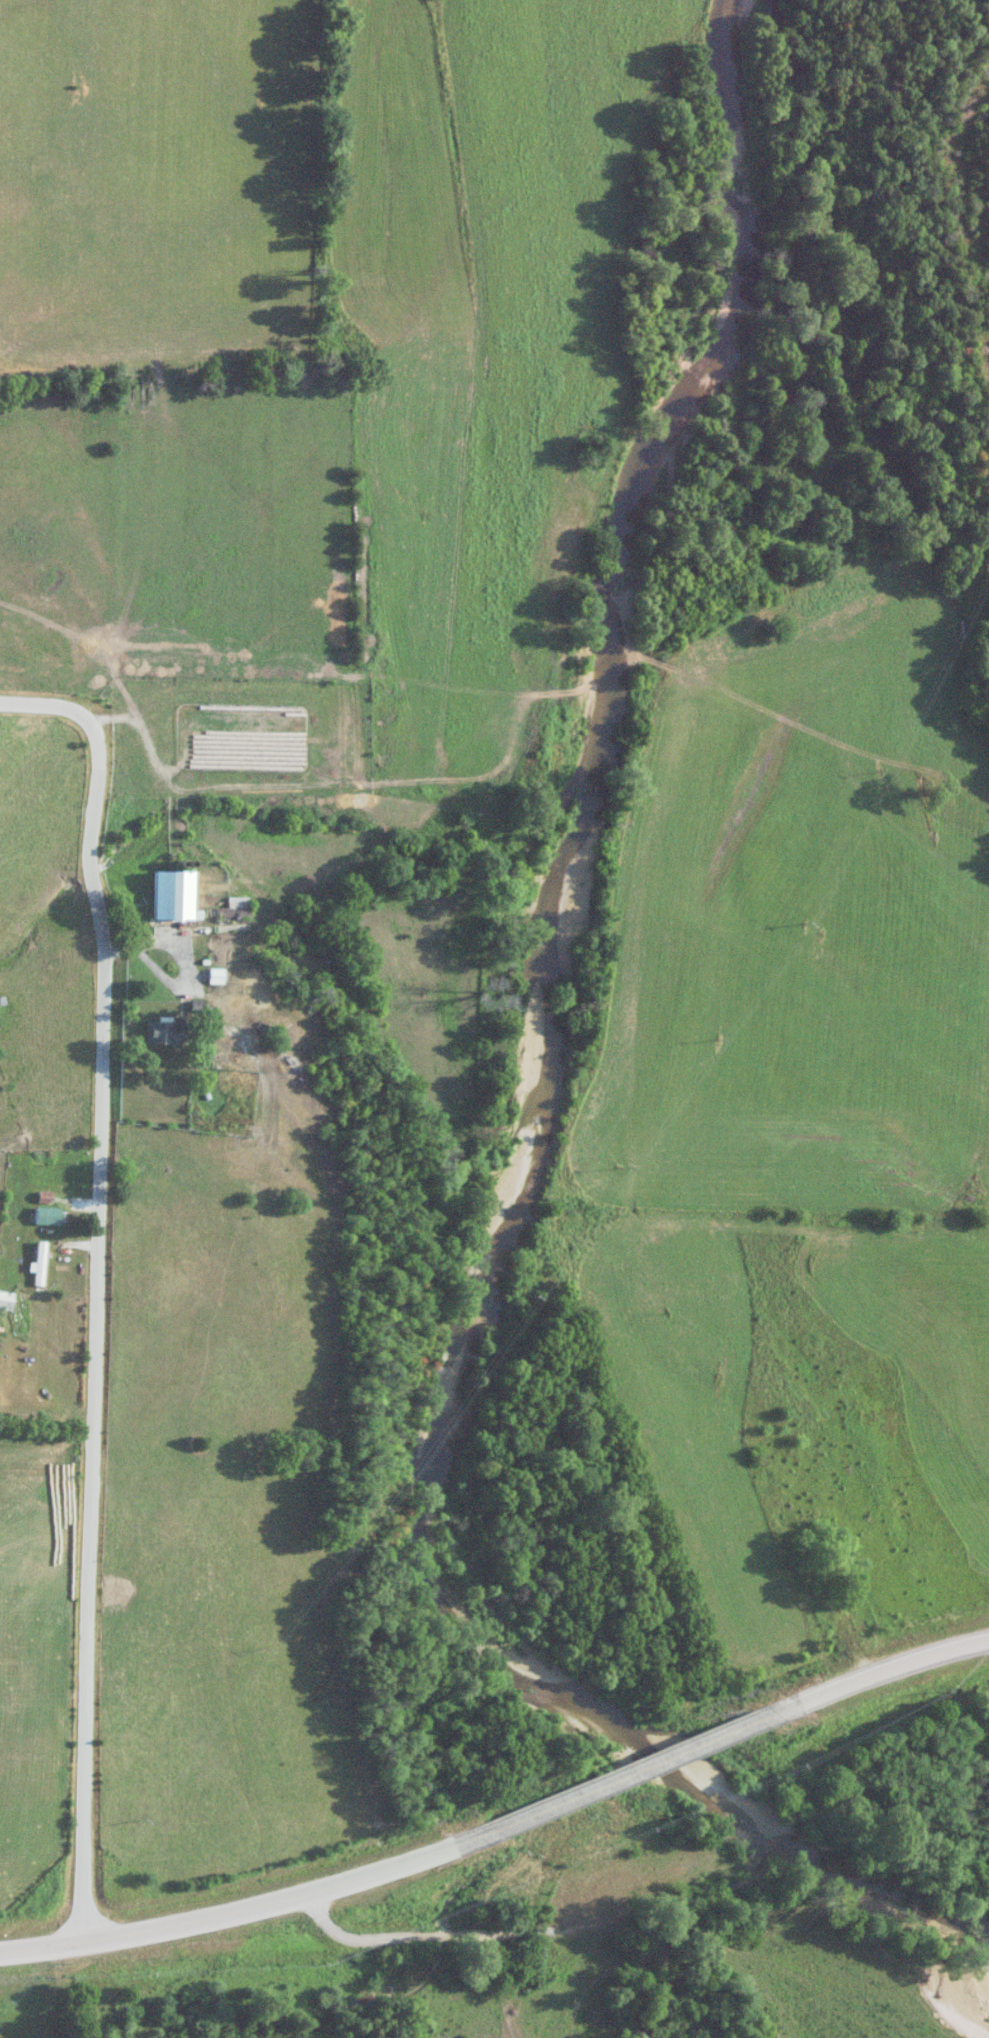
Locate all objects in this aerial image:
building: (177, 895)
building: (219, 976)
building: (159, 1032)
building: (49, 1215)
building: (41, 1263)
road: (105, 1279)
building: (7, 1301)
road: (876, 1671)
road: (668, 1756)
road: (289, 1896)
road: (419, 1936)
road: (497, 1986)

